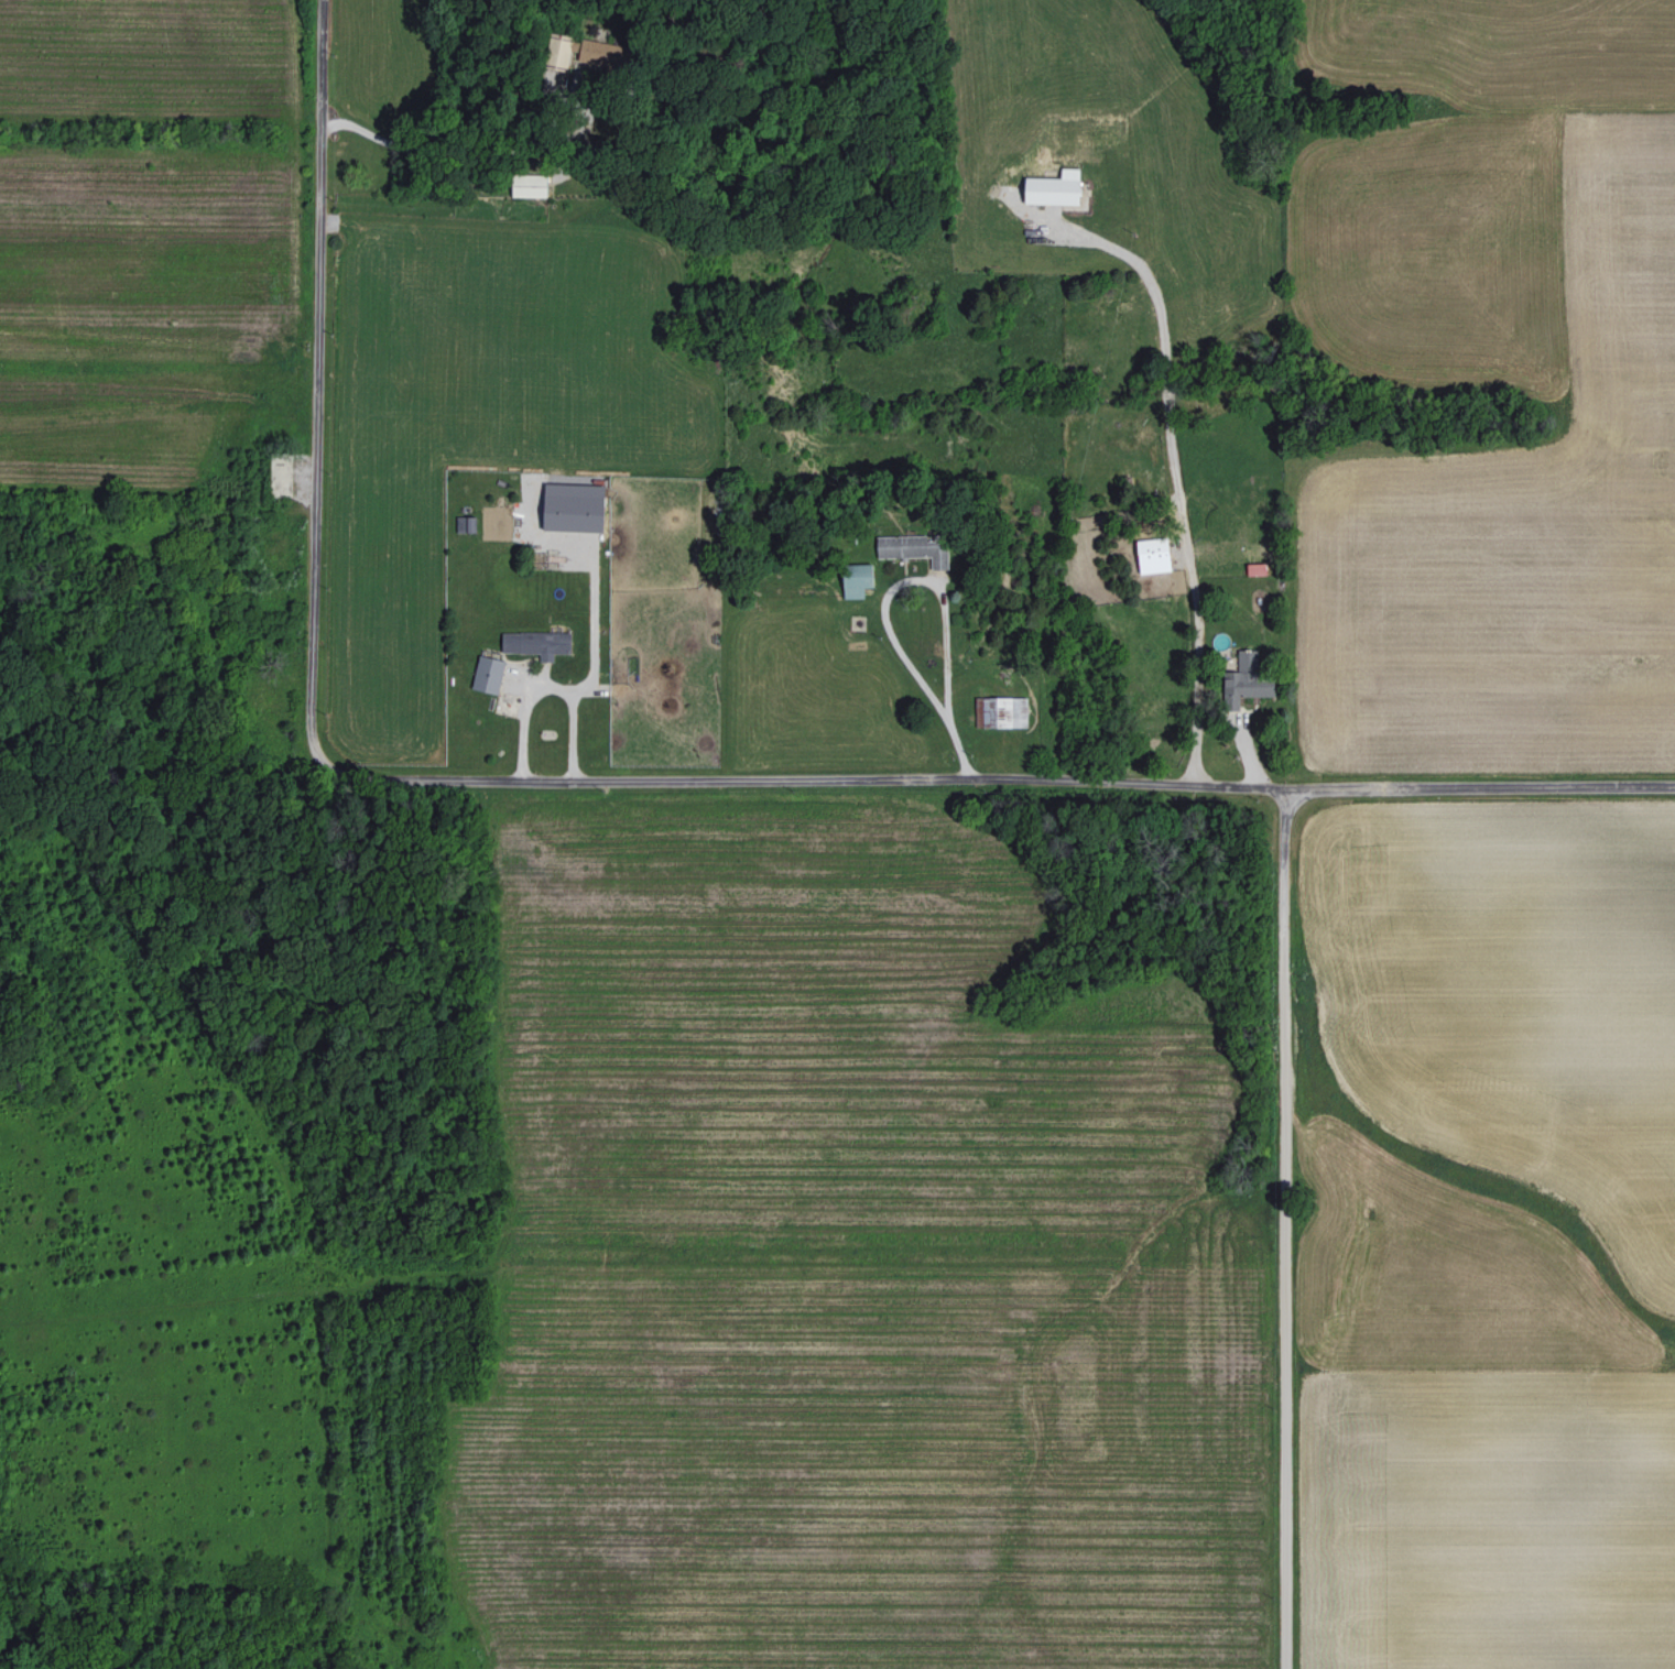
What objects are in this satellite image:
building: (559, 51)
building: (597, 53)
road: (460, 155)
building: (525, 186)
building: (1049, 188)
road: (313, 425)
road: (1174, 478)
building: (568, 508)
building: (910, 549)
building: (1149, 556)
building: (852, 580)
road: (934, 585)
building: (533, 644)
building: (486, 675)
building: (1242, 681)
road: (547, 686)
road: (1040, 778)
road: (1276, 1225)

